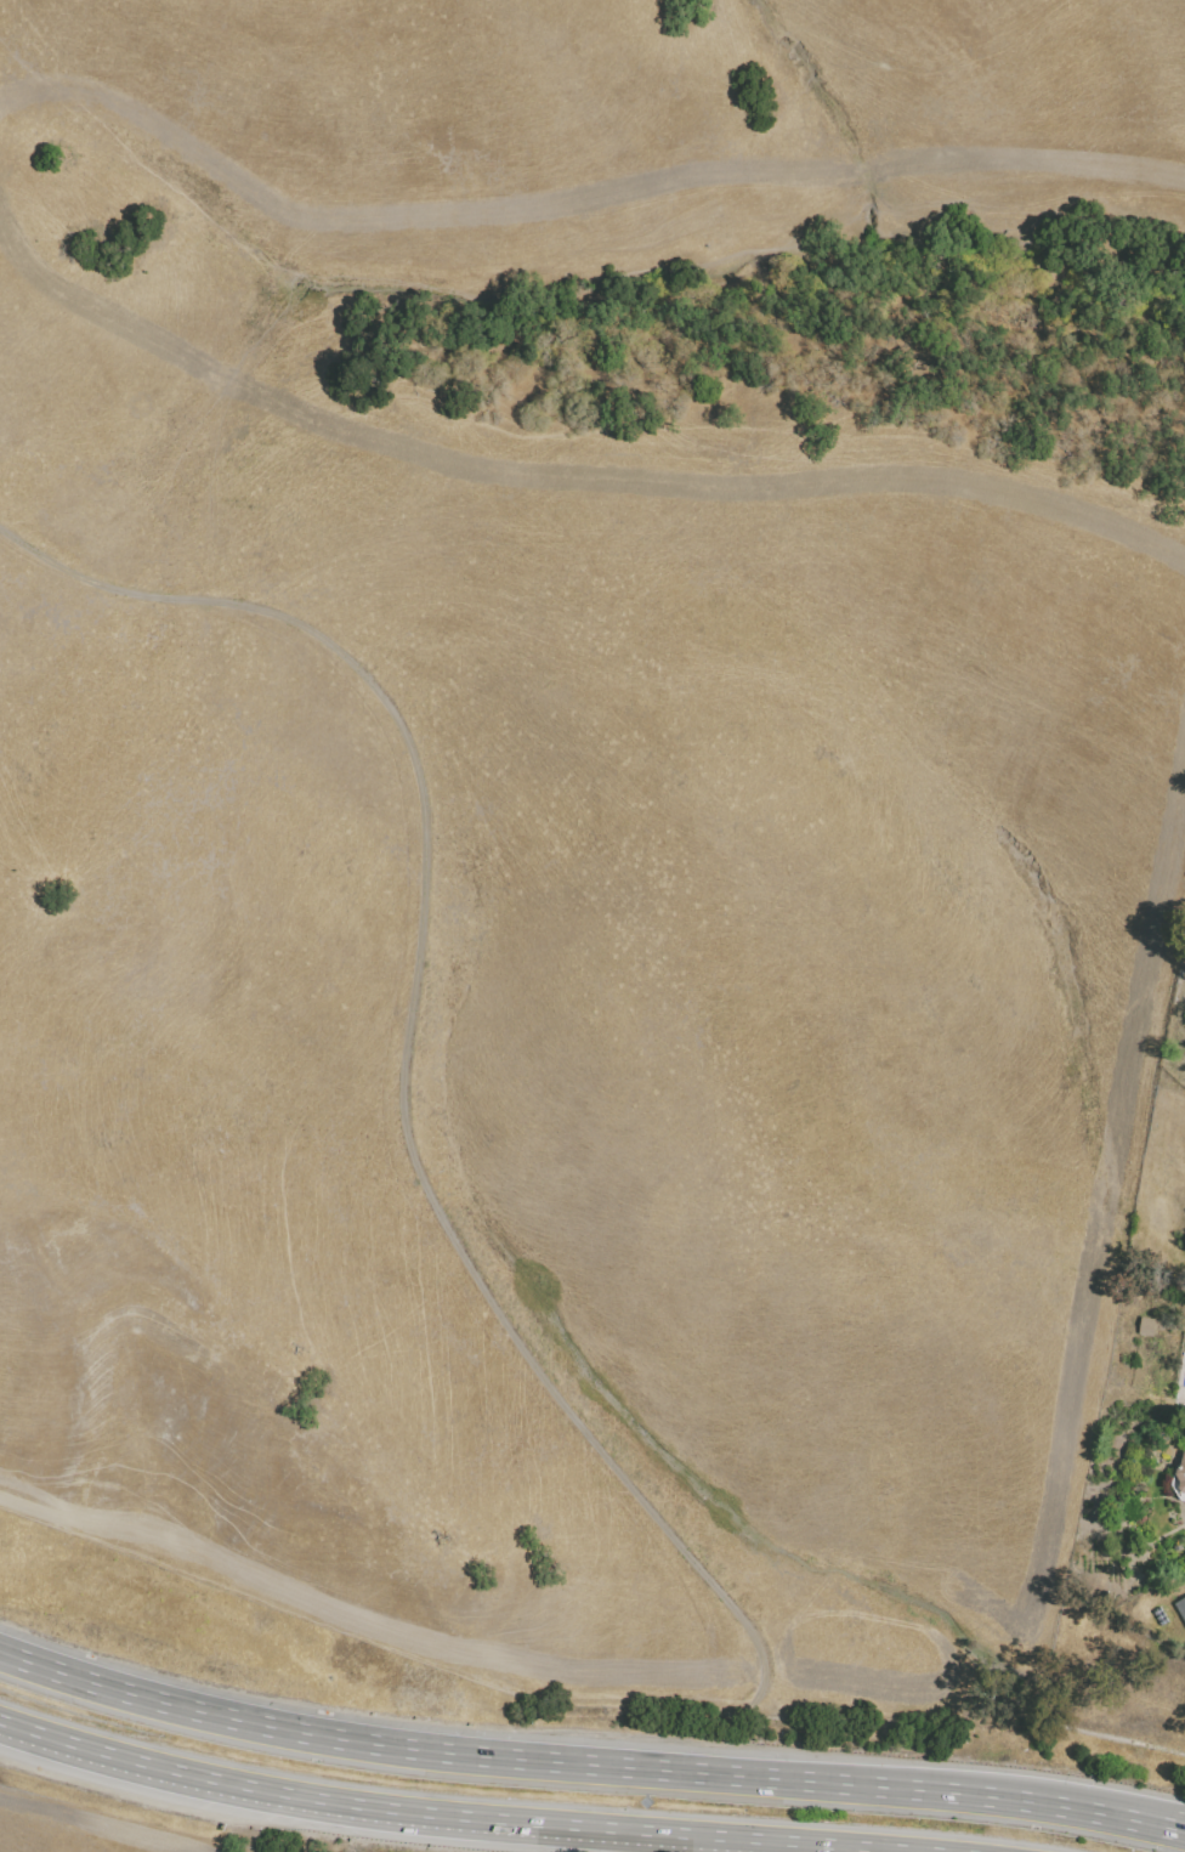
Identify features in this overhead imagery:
road: (410, 1063)
building: (1146, 1327)
building: (1179, 1478)
road: (1181, 1590)
building: (1181, 1608)
road: (580, 1763)
road: (458, 1816)
road: (1178, 1822)

